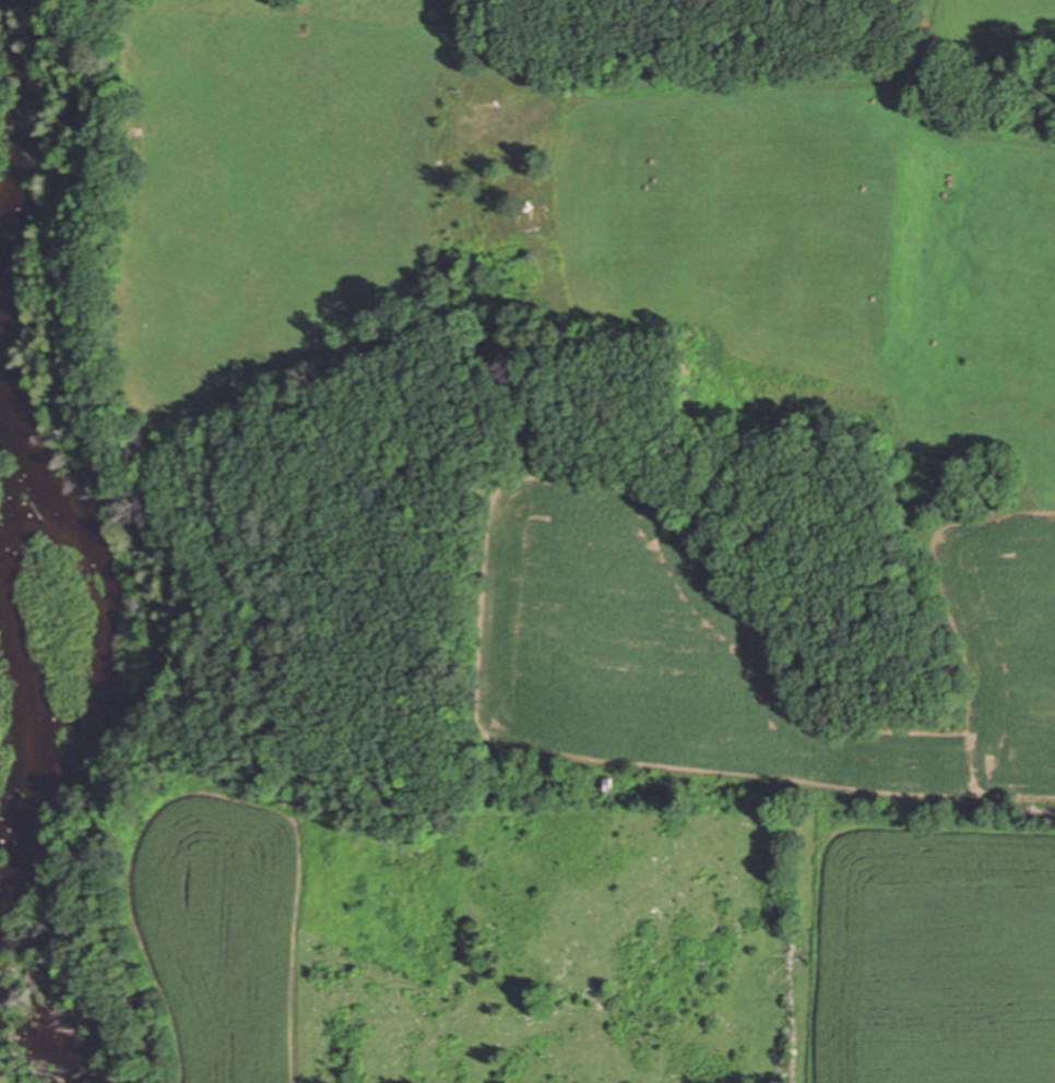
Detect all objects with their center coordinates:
river: (50, 461)
river: (33, 1028)

